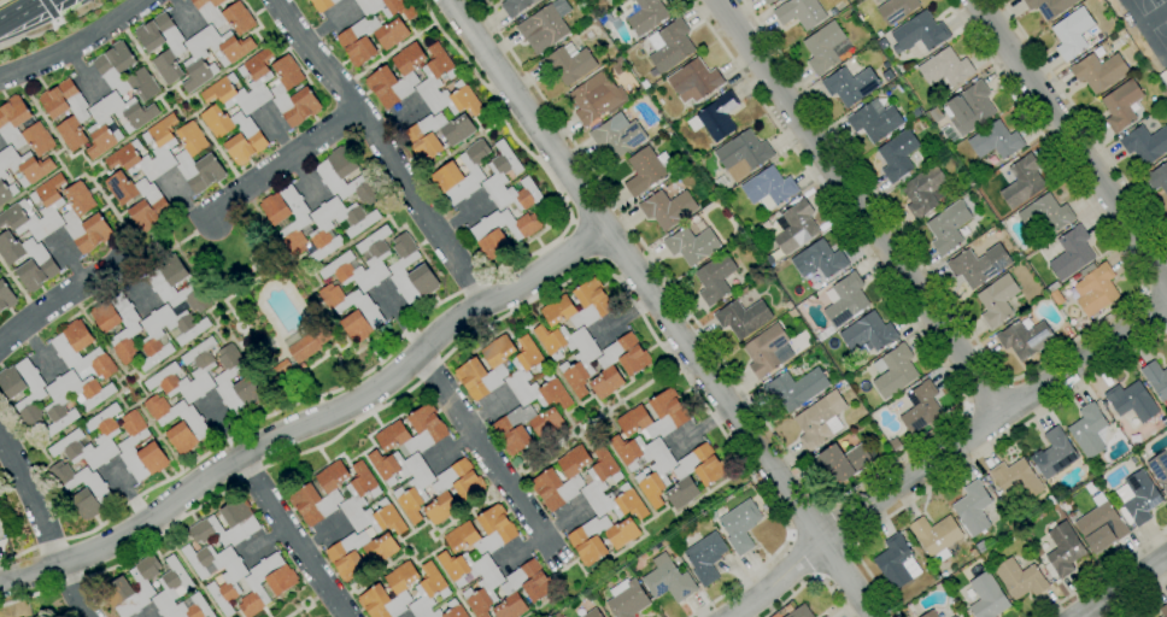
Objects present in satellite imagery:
building: (605, 1)
building: (767, 1)
building: (322, 5)
park: (1148, 5)
building: (516, 6)
building: (386, 7)
building: (1049, 7)
building: (896, 10)
road: (22, 12)
road: (51, 12)
building: (799, 12)
road: (183, 14)
building: (225, 14)
building: (643, 14)
building: (848, 14)
road: (329, 24)
road: (55, 27)
building: (545, 27)
building: (418, 29)
building: (1072, 33)
park: (1161, 33)
building: (919, 34)
building: (422, 35)
building: (1098, 36)
building: (352, 41)
road: (75, 43)
building: (882, 43)
building: (669, 46)
building: (826, 48)
building: (176, 49)
building: (1098, 52)
building: (199, 58)
road: (239, 61)
building: (616, 61)
building: (569, 64)
building: (1137, 65)
building: (364, 66)
building: (945, 69)
building: (111, 70)
building: (1098, 71)
building: (368, 72)
road: (82, 74)
building: (382, 74)
building: (432, 78)
building: (694, 81)
building: (244, 83)
building: (850, 84)
building: (303, 93)
building: (596, 98)
building: (1121, 105)
building: (968, 107)
building: (1136, 107)
building: (852, 110)
building: (80, 116)
building: (936, 116)
road: (160, 117)
road: (399, 118)
building: (716, 118)
road: (1084, 119)
building: (874, 121)
road: (46, 122)
building: (11, 124)
building: (102, 127)
road: (276, 131)
building: (617, 135)
building: (248, 136)
building: (420, 137)
road: (210, 139)
road: (1071, 139)
building: (996, 141)
building: (1144, 143)
building: (128, 148)
road: (383, 148)
building: (743, 154)
building: (898, 155)
building: (184, 160)
building: (230, 160)
road: (282, 161)
building: (224, 165)
building: (448, 170)
building: (645, 171)
building: (34, 175)
road: (49, 176)
building: (333, 176)
building: (497, 178)
building: (1157, 178)
road: (304, 180)
building: (1022, 182)
building: (769, 188)
building: (923, 192)
building: (139, 200)
road: (106, 201)
road: (184, 201)
road: (858, 207)
building: (18, 208)
building: (668, 208)
building: (1045, 215)
building: (70, 217)
road: (463, 217)
building: (288, 218)
building: (766, 225)
building: (794, 227)
building: (948, 227)
building: (324, 230)
building: (487, 235)
road: (583, 242)
building: (691, 245)
building: (1069, 253)
road: (69, 258)
building: (769, 258)
building: (819, 259)
building: (345, 260)
building: (40, 263)
building: (979, 265)
building: (0, 270)
building: (422, 270)
building: (0, 271)
building: (440, 274)
building: (715, 277)
road: (133, 283)
building: (1052, 286)
road: (19, 287)
building: (1095, 288)
road: (1145, 289)
building: (6, 295)
road: (61, 296)
building: (1056, 298)
building: (846, 300)
building: (997, 300)
building: (594, 302)
building: (725, 302)
building: (788, 305)
road: (1156, 305)
road: (659, 308)
building: (171, 312)
building: (1062, 312)
road: (210, 313)
building: (365, 313)
building: (793, 313)
road: (623, 317)
building: (743, 318)
road: (403, 319)
road: (497, 319)
building: (1090, 322)
building: (118, 324)
road: (404, 333)
building: (868, 333)
building: (1025, 337)
road: (105, 346)
road: (39, 349)
building: (300, 349)
building: (81, 351)
building: (768, 351)
building: (583, 362)
building: (301, 366)
building: (471, 366)
building: (633, 368)
road: (1030, 370)
building: (652, 371)
building: (895, 371)
building: (231, 375)
building: (521, 375)
building: (1156, 380)
building: (837, 381)
road: (1008, 382)
building: (661, 383)
building: (796, 388)
road: (571, 395)
road: (989, 396)
building: (34, 398)
road: (624, 399)
building: (1132, 400)
building: (608, 401)
building: (87, 402)
building: (921, 407)
road: (968, 409)
road: (489, 410)
road: (90, 412)
building: (615, 413)
building: (672, 415)
road: (311, 421)
building: (820, 421)
road: (149, 423)
building: (190, 424)
road: (224, 427)
building: (426, 428)
road: (700, 429)
building: (1089, 430)
building: (511, 434)
building: (74, 437)
road: (555, 445)
building: (895, 445)
building: (125, 446)
road: (451, 448)
road: (487, 453)
road: (943, 453)
building: (1054, 454)
road: (360, 456)
road: (973, 459)
building: (1133, 460)
road: (616, 463)
building: (841, 463)
building: (1159, 469)
building: (658, 472)
building: (710, 477)
building: (547, 478)
building: (1016, 478)
building: (594, 482)
building: (416, 488)
road: (846, 488)
building: (95, 490)
building: (468, 493)
road: (129, 494)
building: (321, 494)
building: (995, 495)
road: (31, 498)
building: (356, 498)
building: (1139, 499)
road: (394, 505)
building: (1066, 506)
building: (973, 509)
road: (807, 519)
building: (242, 524)
road: (839, 524)
building: (740, 525)
building: (1101, 525)
building: (499, 529)
road: (435, 533)
road: (543, 534)
road: (323, 535)
road: (292, 536)
building: (936, 536)
building: (585, 542)
road: (264, 543)
building: (663, 543)
road: (629, 545)
building: (658, 546)
building: (981, 546)
building: (1062, 551)
building: (974, 553)
road: (802, 556)
building: (705, 557)
building: (346, 559)
road: (559, 560)
road: (835, 560)
building: (896, 563)
road: (187, 566)
road: (385, 568)
road: (1101, 574)
building: (231, 578)
road: (809, 578)
building: (1020, 578)
building: (668, 580)
building: (265, 583)
building: (117, 584)
road: (453, 586)
building: (488, 586)
road: (1120, 586)
building: (170, 588)
building: (523, 589)
road: (74, 590)
building: (433, 590)
building: (376, 592)
building: (987, 597)
road: (1139, 598)
building: (627, 599)
road: (307, 604)
building: (798, 611)
building: (1163, 611)
building: (592, 613)
building: (931, 613)
road: (154, 616)
building: (823, 616)
building: (954, 616)

